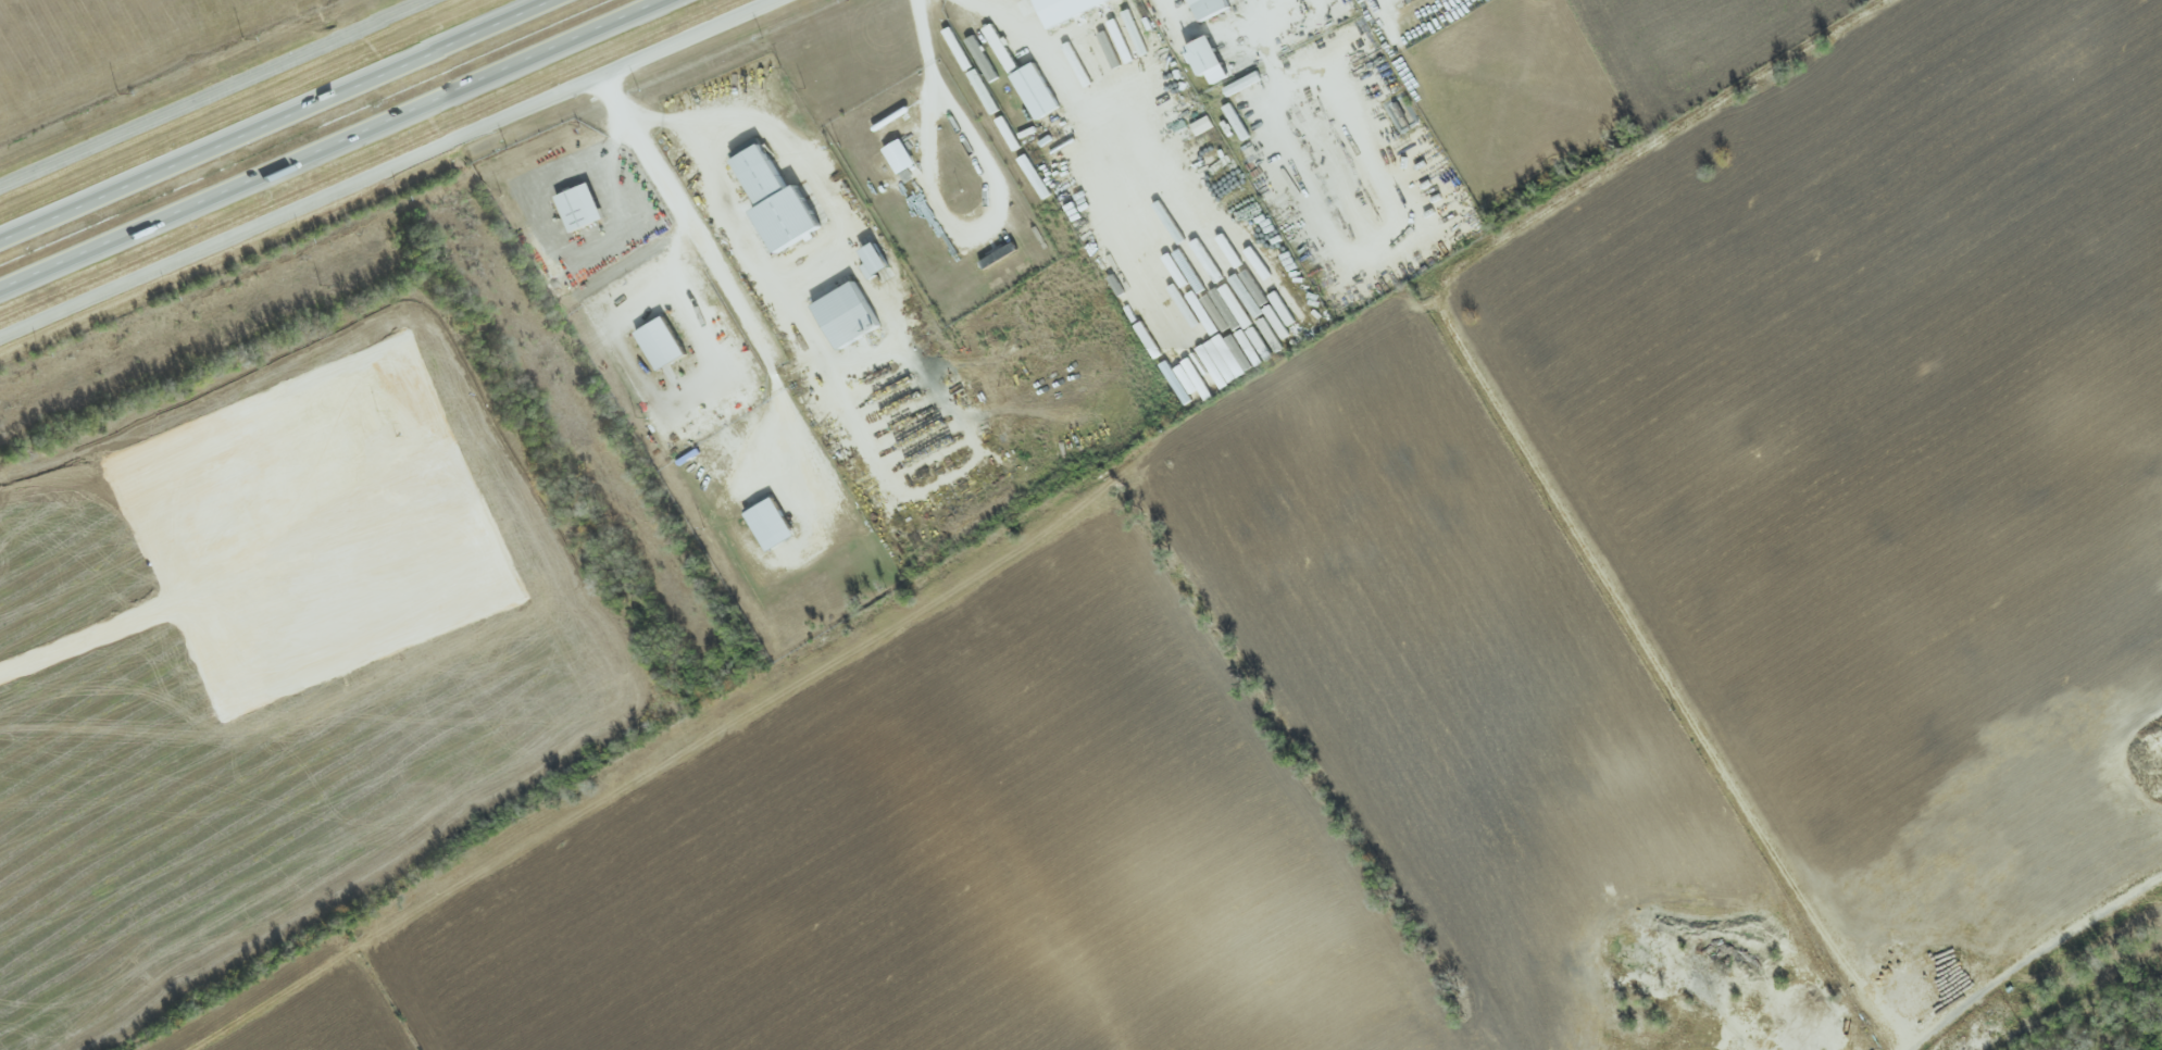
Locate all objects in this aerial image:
road: (1373, 2)
building: (1216, 5)
building: (1066, 8)
building: (1123, 25)
road: (923, 41)
building: (1002, 48)
building: (1215, 53)
building: (1095, 60)
building: (1080, 70)
building: (1246, 79)
building: (1039, 90)
road: (217, 95)
road: (320, 105)
road: (415, 112)
road: (1087, 118)
building: (1239, 118)
building: (1203, 125)
road: (1292, 125)
building: (904, 152)
road: (393, 170)
building: (782, 193)
building: (584, 203)
road: (971, 222)
road: (38, 226)
road: (38, 227)
building: (1221, 249)
building: (879, 258)
road: (78, 259)
road: (78, 261)
building: (871, 271)
road: (717, 275)
building: (1225, 276)
road: (797, 277)
building: (1285, 302)
building: (852, 308)
building: (1201, 320)
building: (666, 338)
road: (696, 384)
crop: (1874, 417)
building: (774, 520)
crop: (1146, 779)
road: (2032, 954)
crop: (311, 1013)

